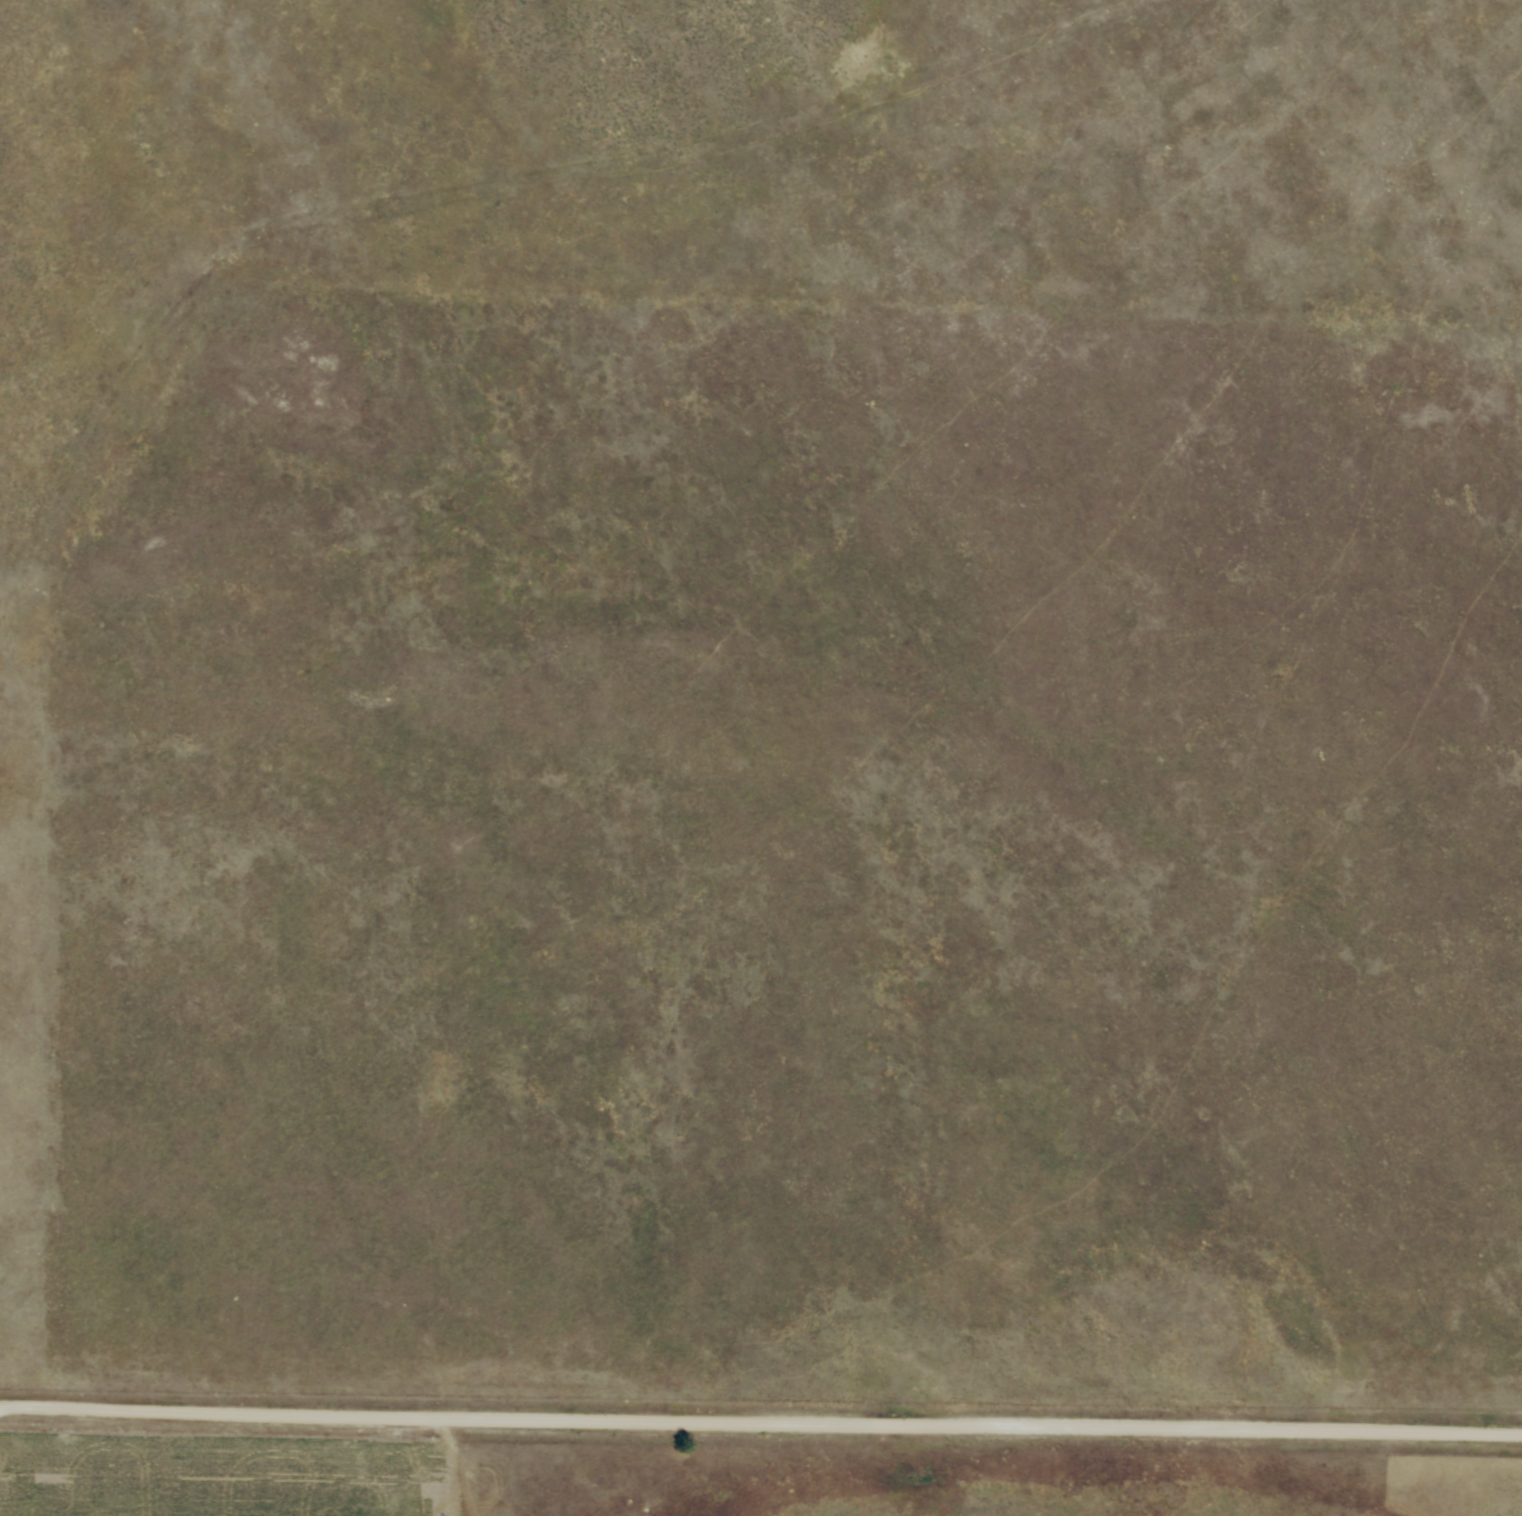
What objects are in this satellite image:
road: (760, 1425)
crop: (208, 1474)
crop: (1084, 1499)

